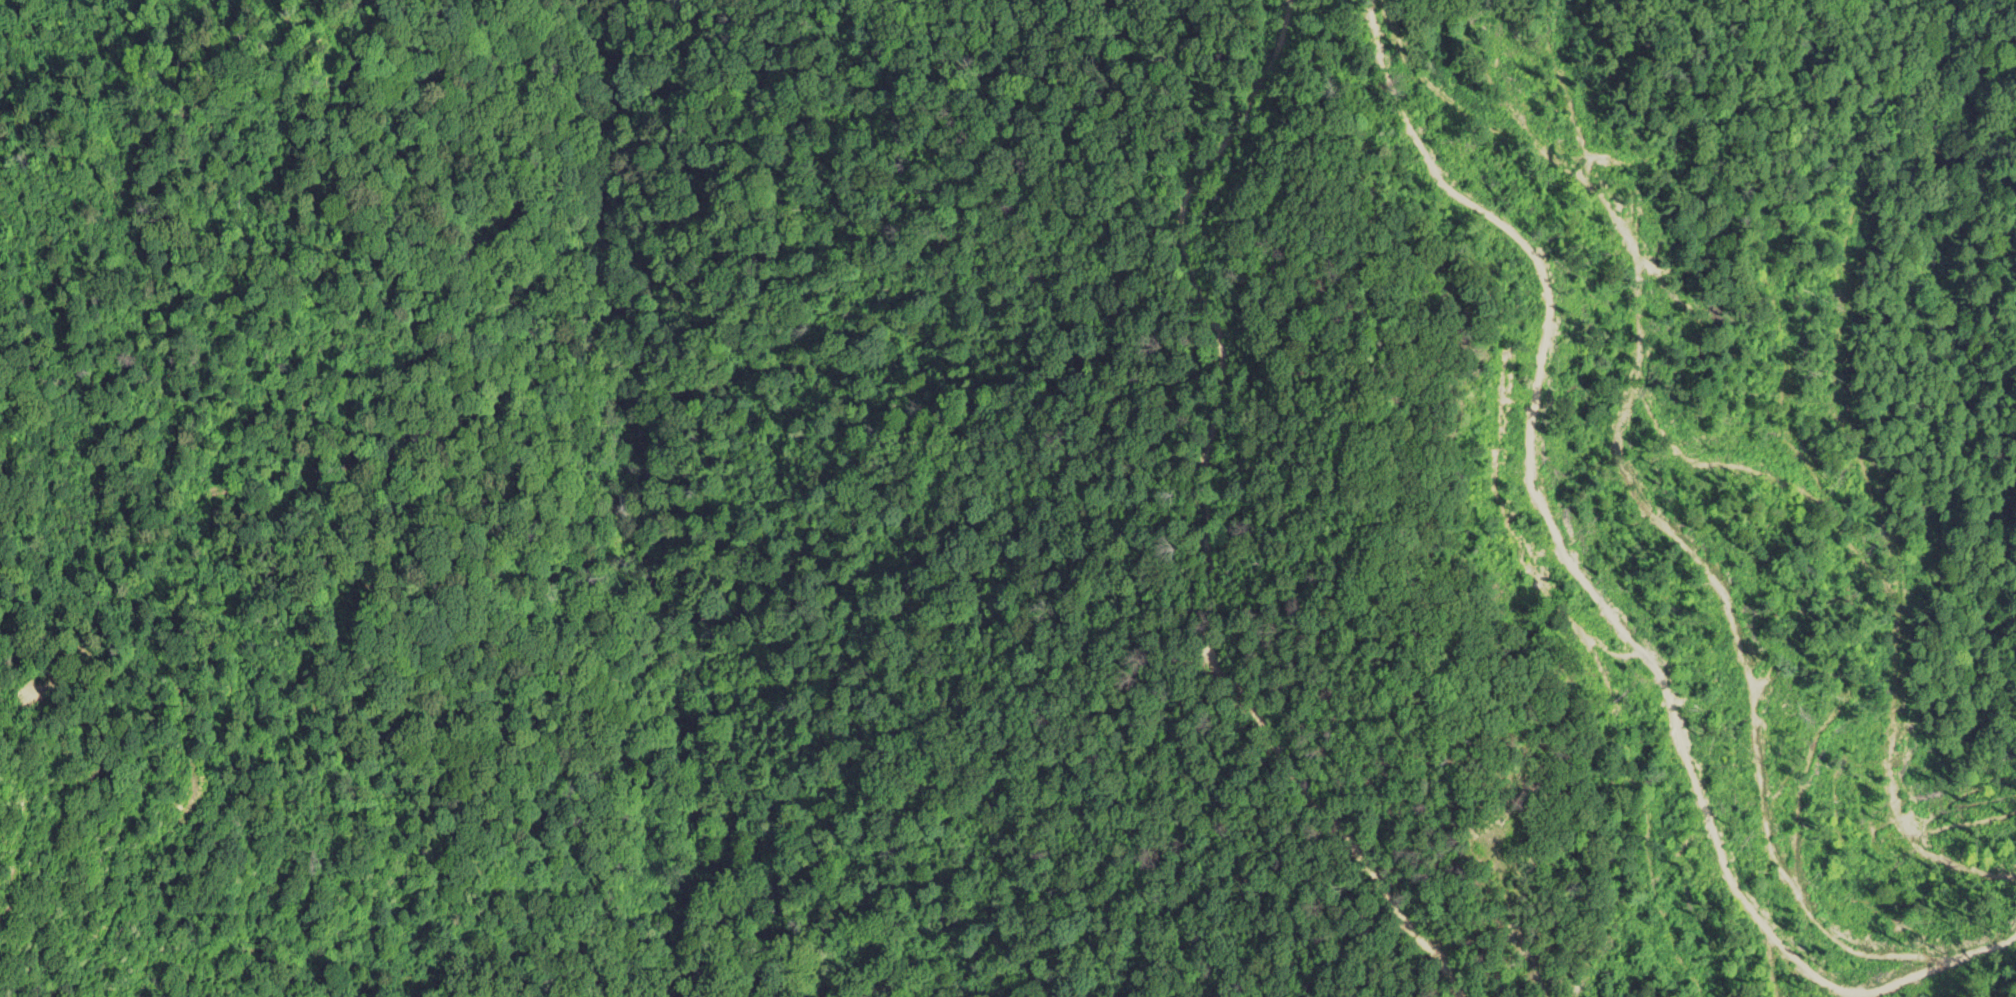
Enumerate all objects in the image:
road: (1939, 300)

